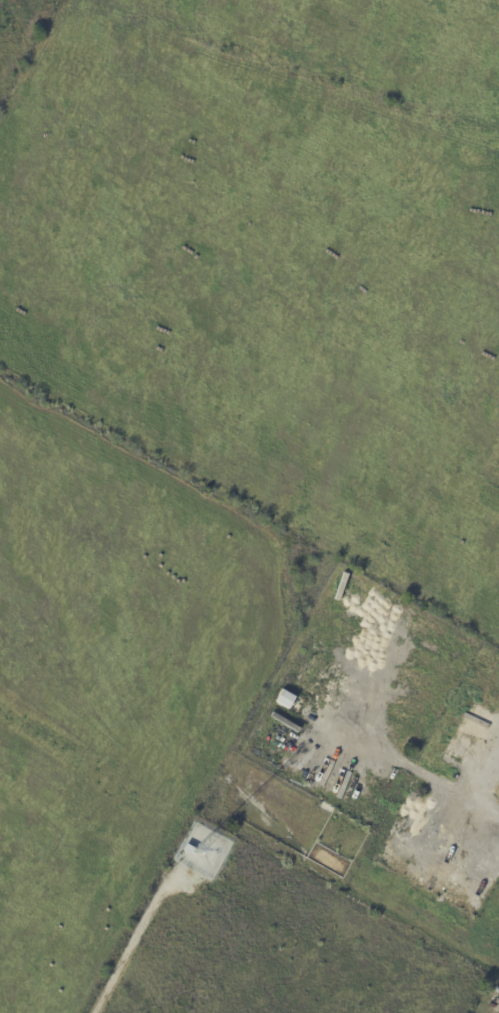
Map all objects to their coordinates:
building: (283, 699)
road: (482, 788)
road: (127, 953)

